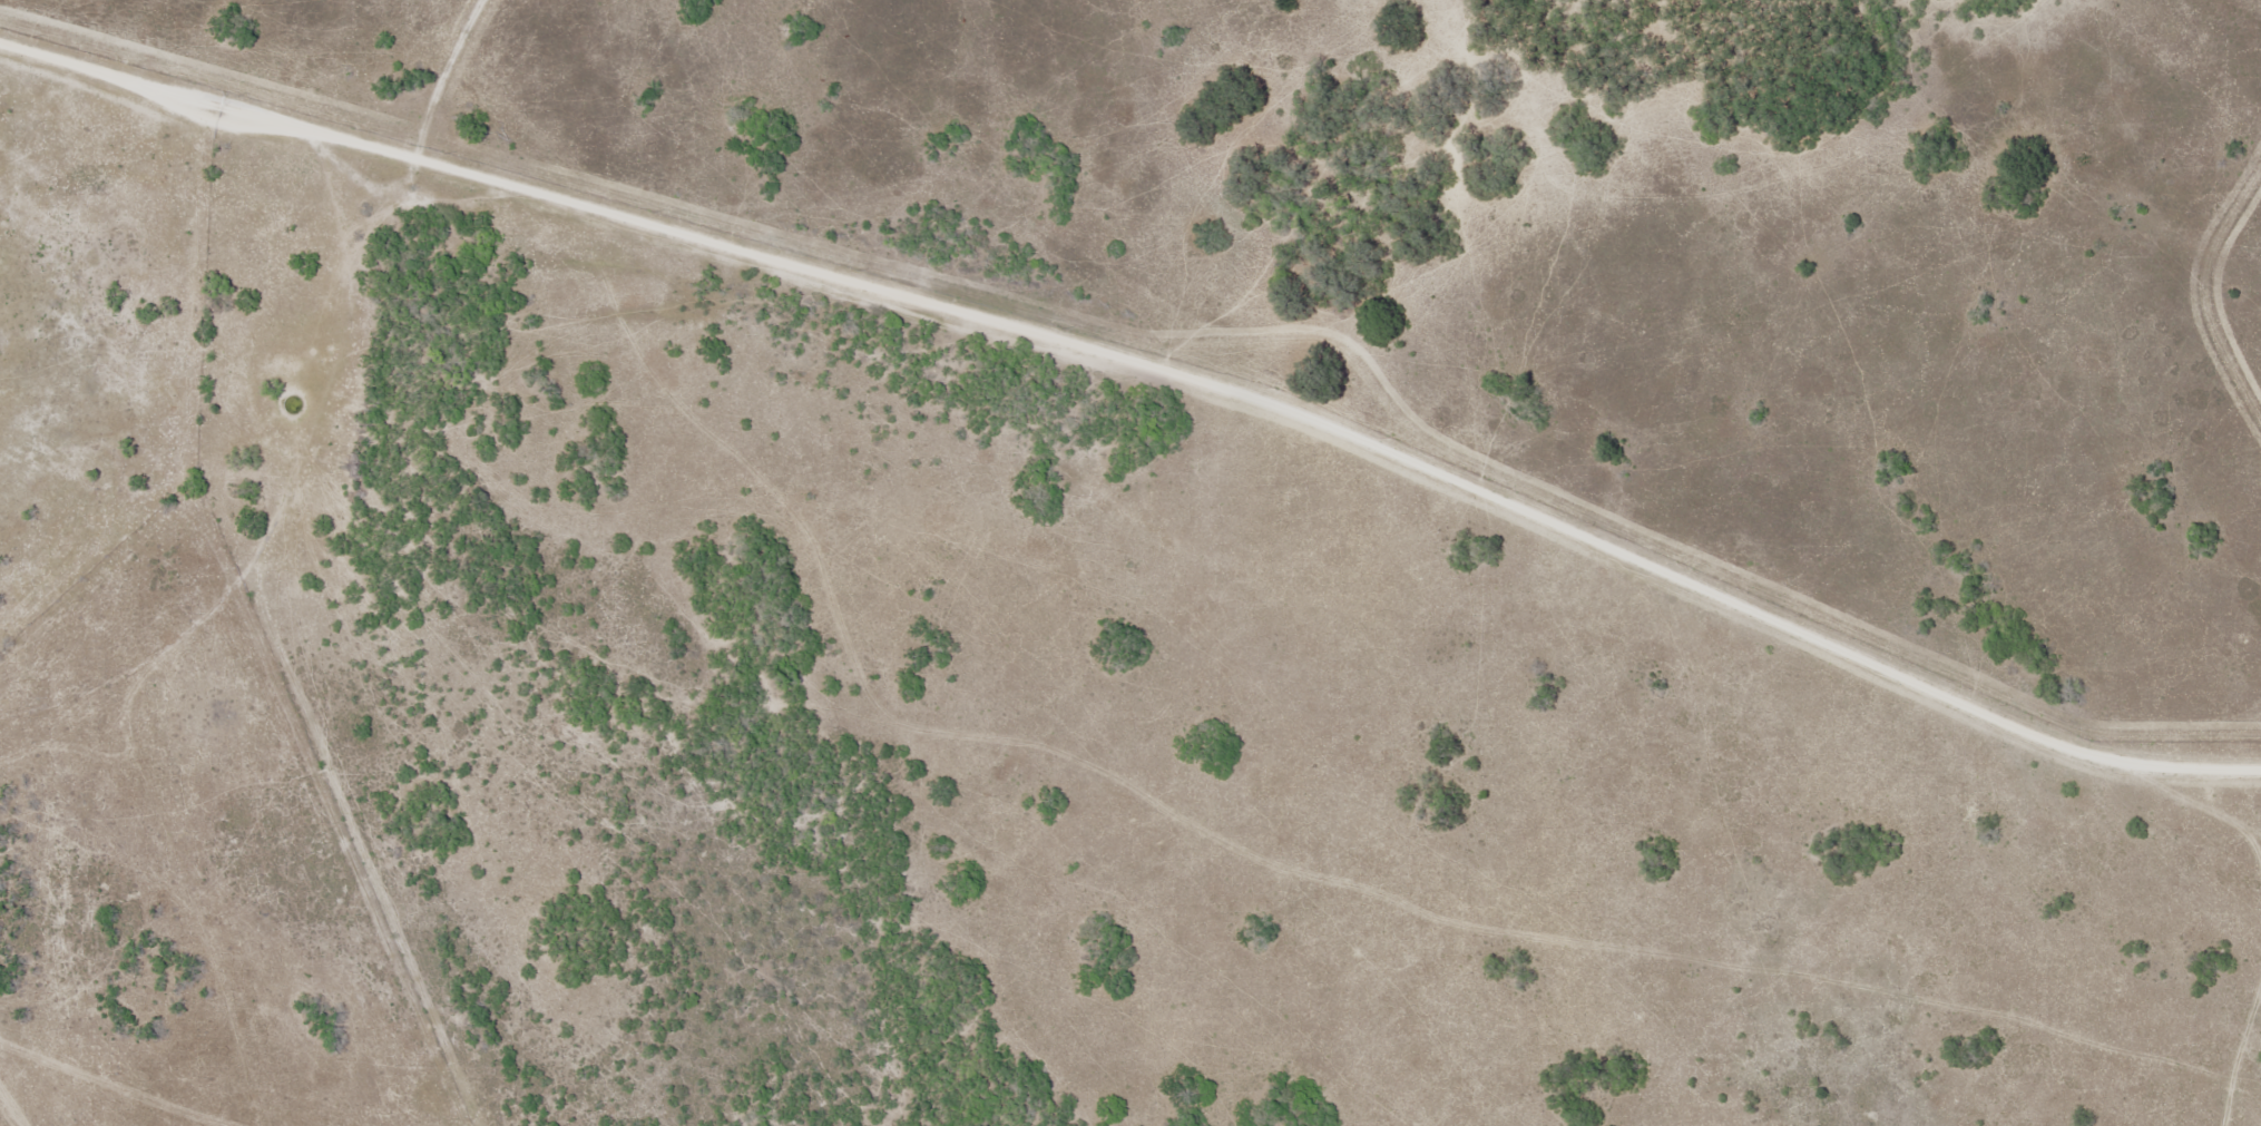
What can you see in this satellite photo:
road: (1096, 384)
road: (2210, 789)

